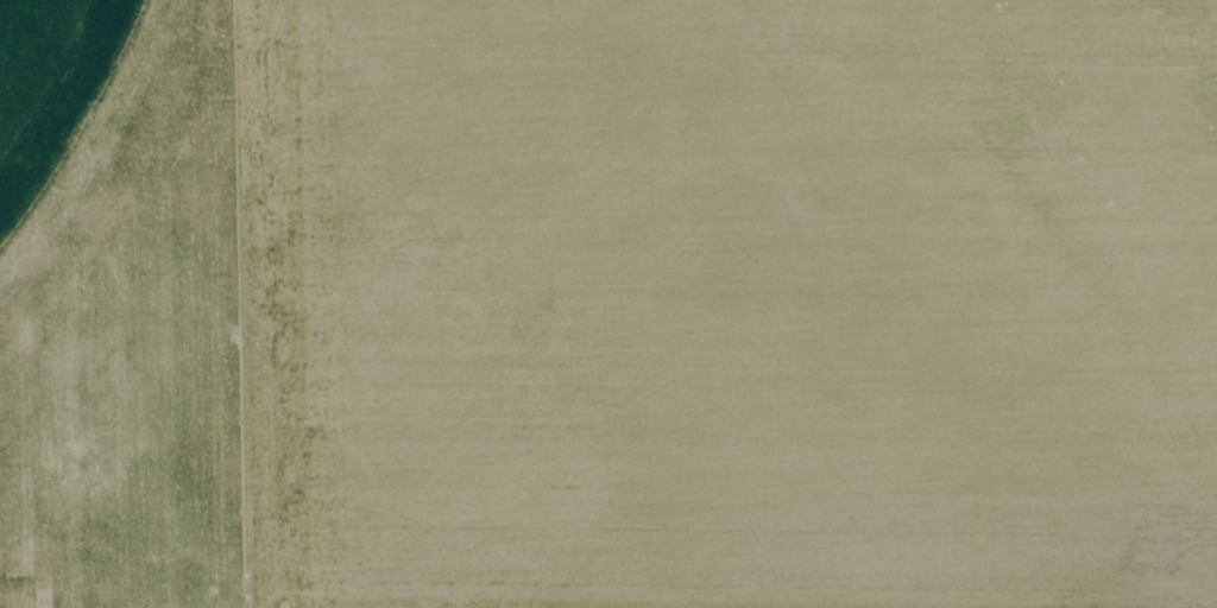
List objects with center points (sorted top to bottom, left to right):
crop: (69, 112)
crop: (726, 303)

